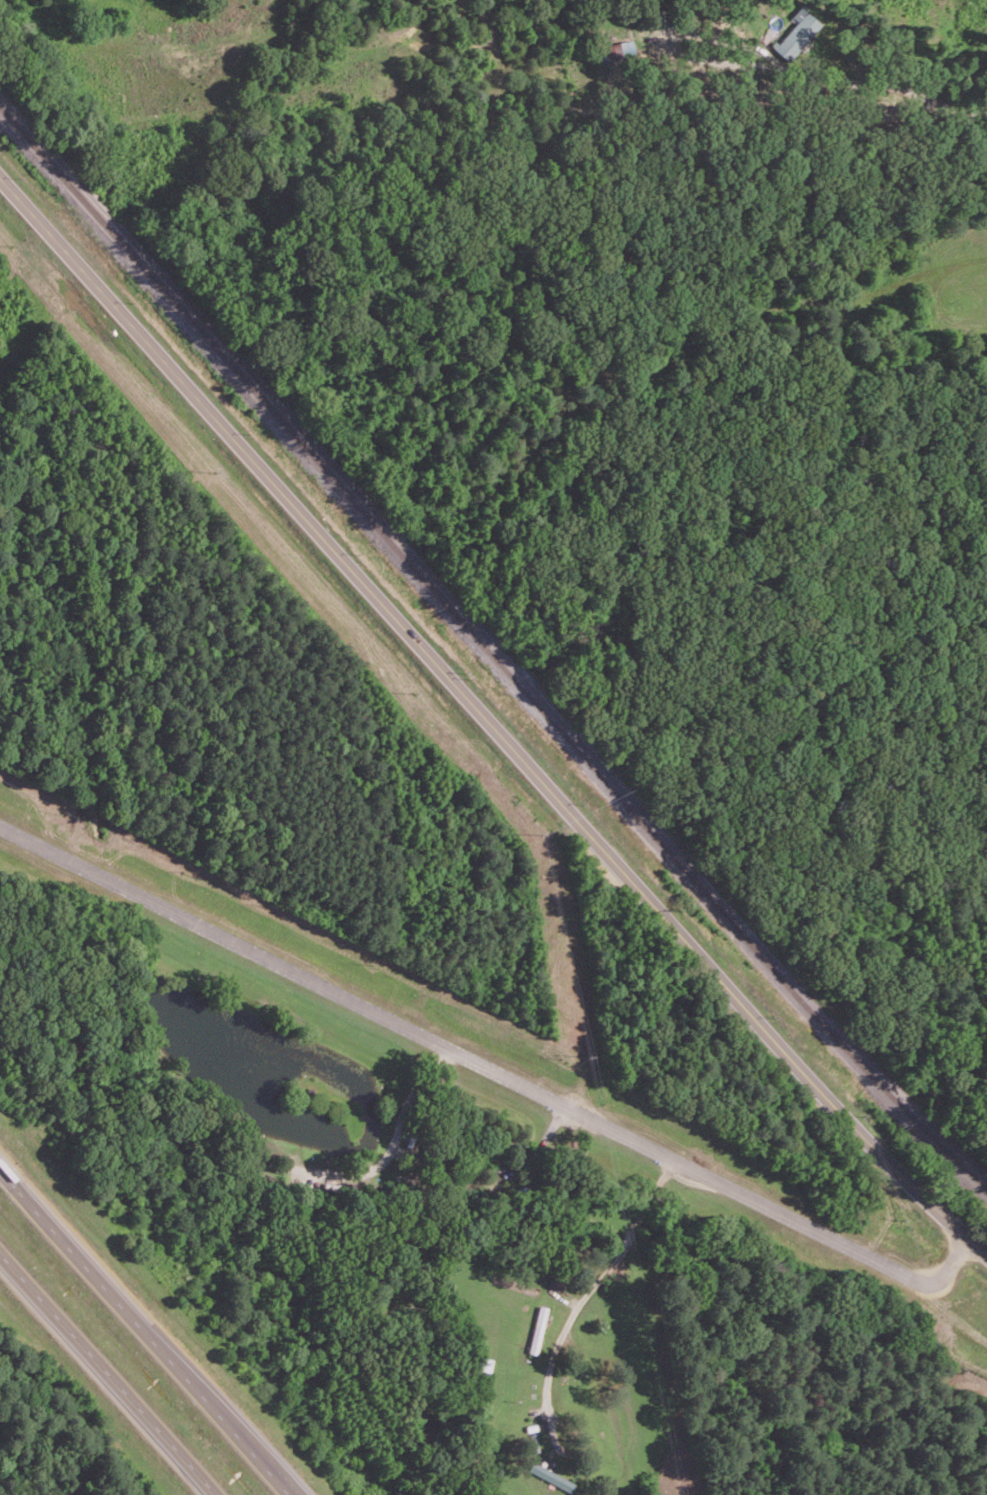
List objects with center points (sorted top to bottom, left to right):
building: (797, 33)
building: (620, 48)
road: (880, 82)
railway: (489, 649)
road: (487, 720)
road: (493, 1073)
road: (586, 1296)
building: (538, 1329)
road: (145, 1331)
road: (108, 1372)
building: (551, 1476)

